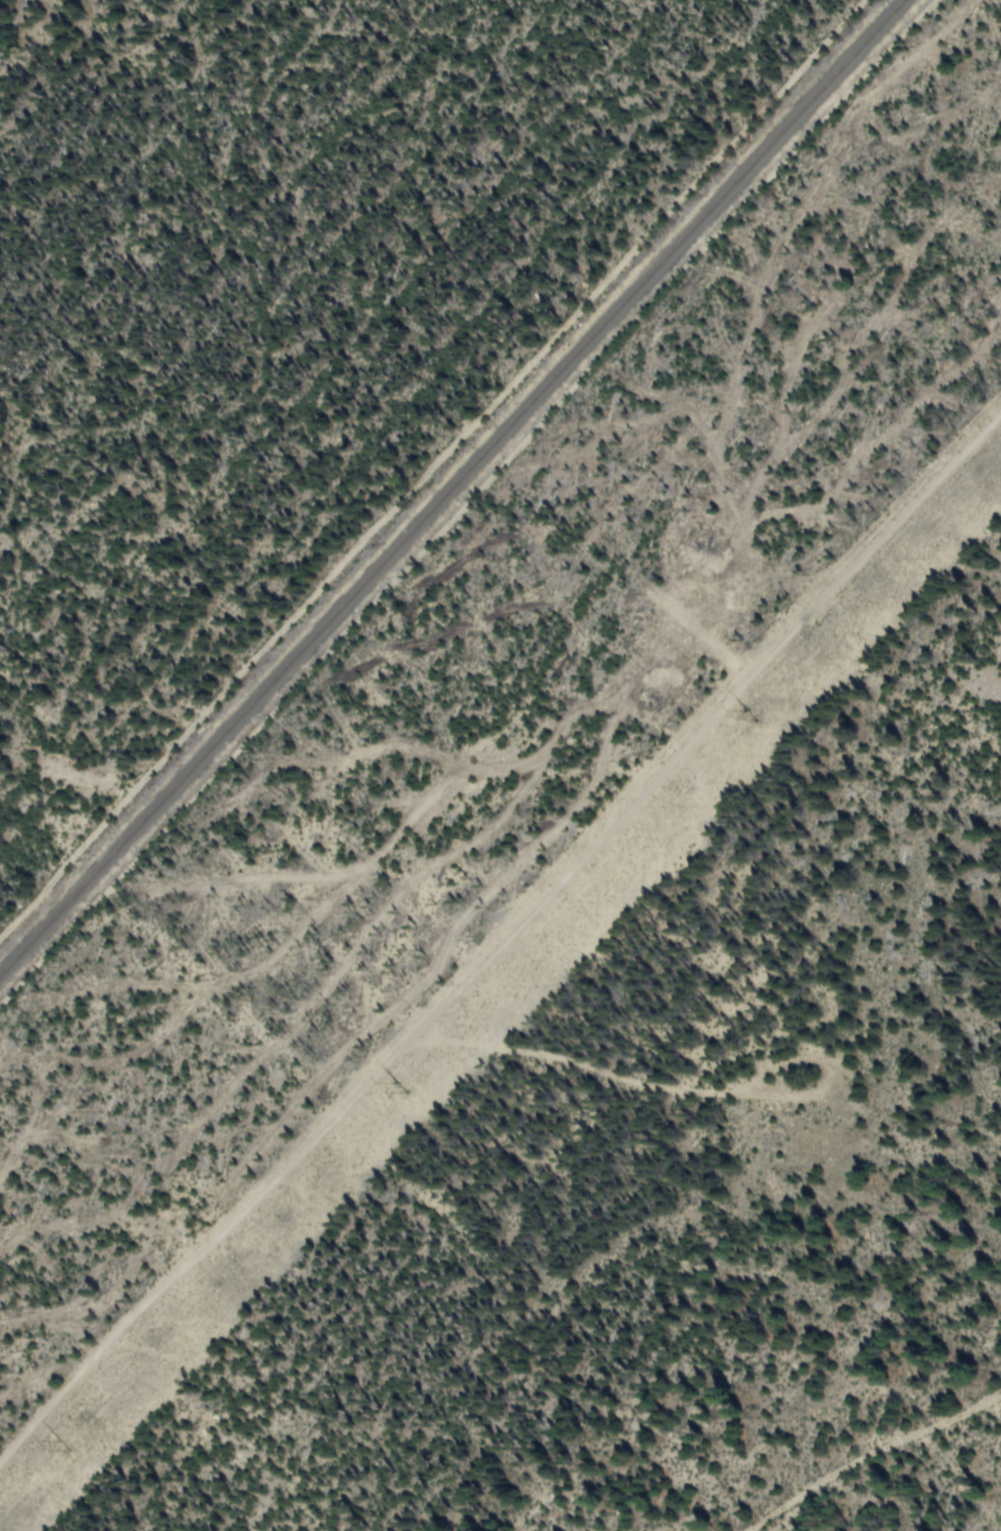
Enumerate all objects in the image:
road: (434, 469)
railway: (452, 490)
road: (509, 970)

